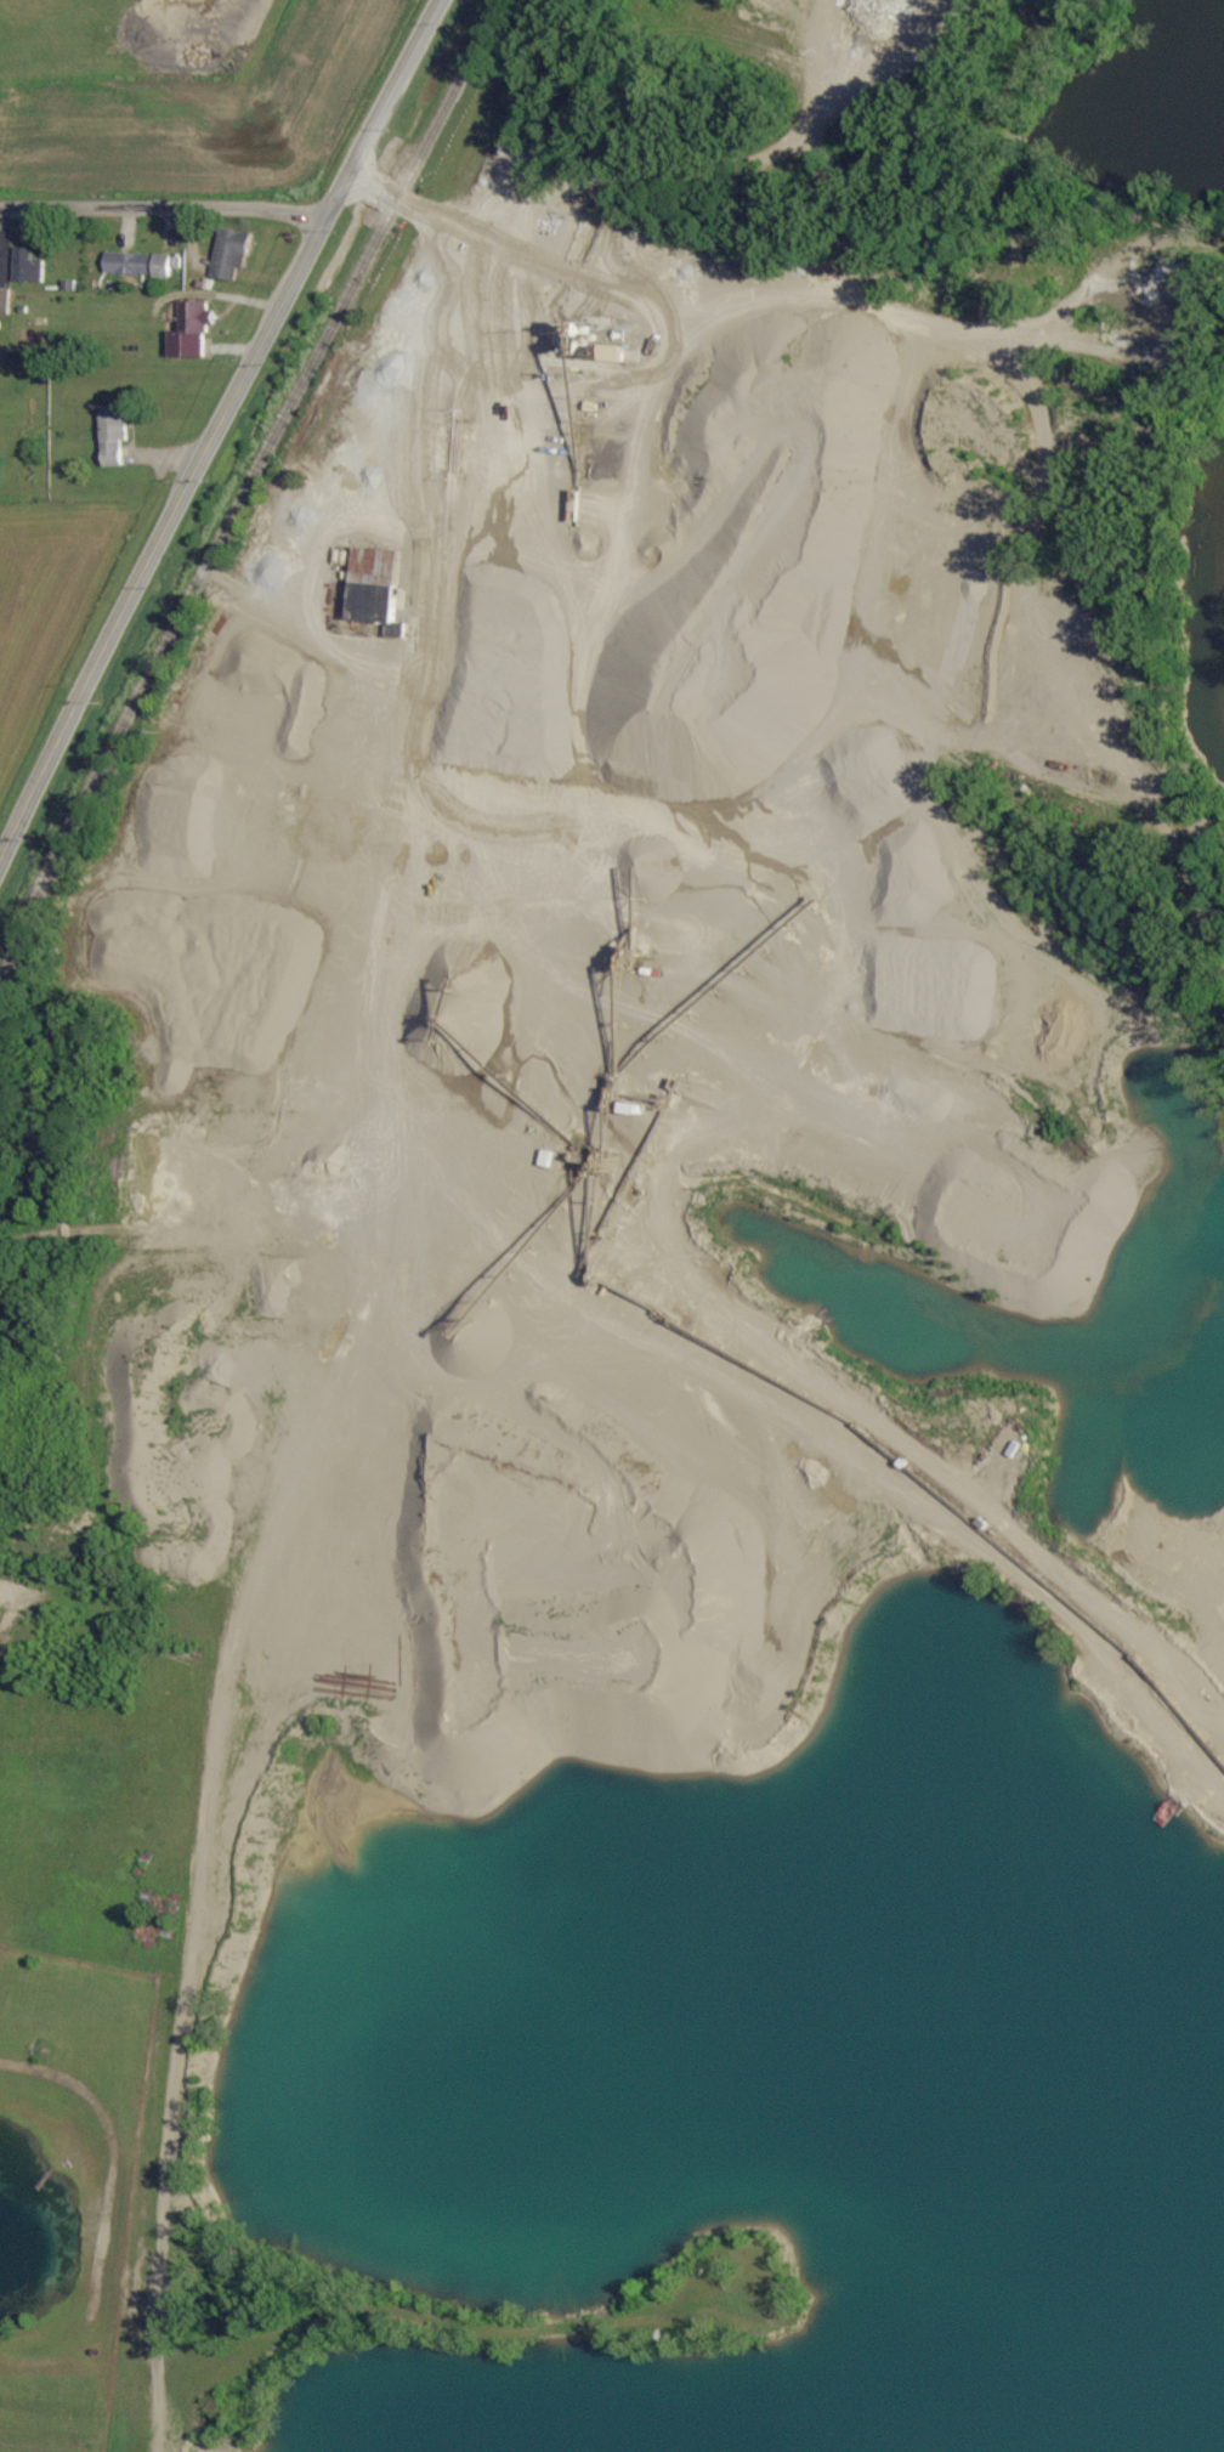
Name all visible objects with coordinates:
road: (161, 198)
building: (229, 254)
building: (137, 265)
building: (25, 267)
building: (4, 301)
building: (188, 332)
building: (610, 355)
road: (216, 424)
building: (110, 435)
railway: (244, 488)
building: (372, 587)
river: (1220, 658)
road: (148, 1219)

